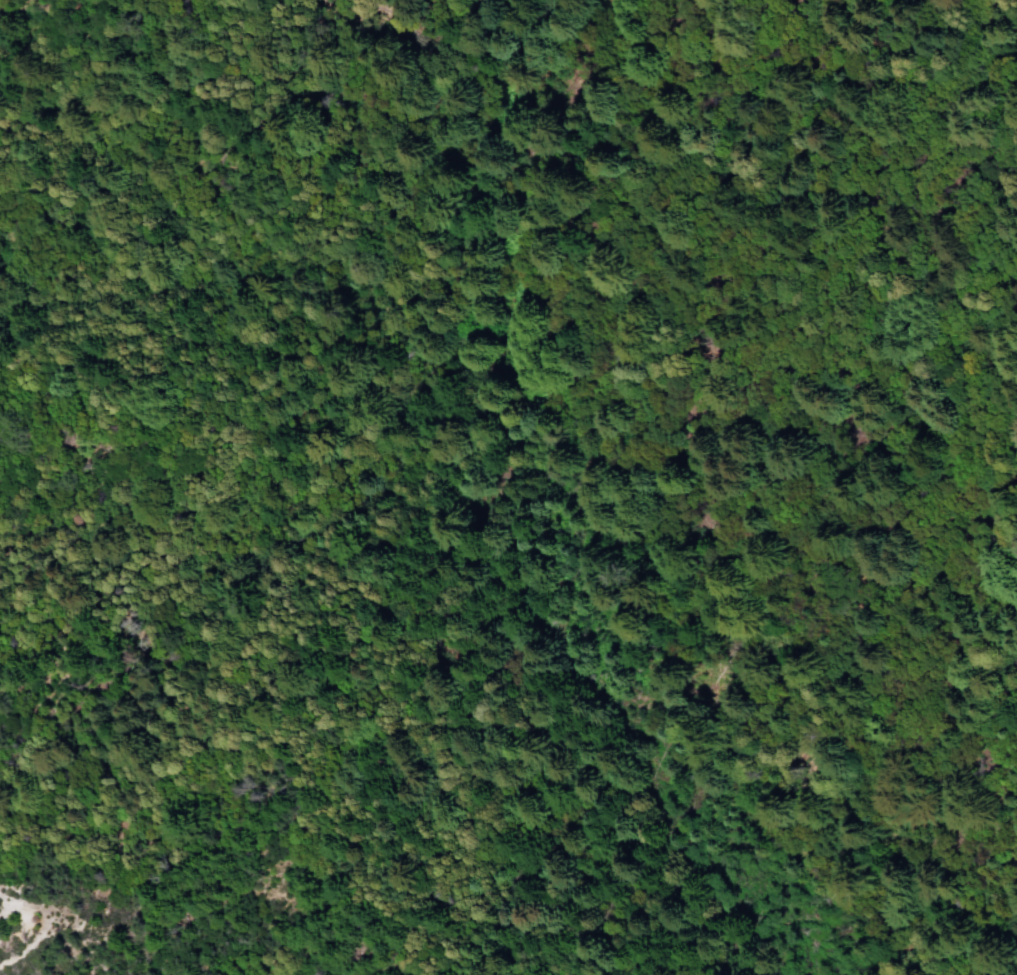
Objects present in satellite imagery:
road: (615, 534)
road: (34, 912)

